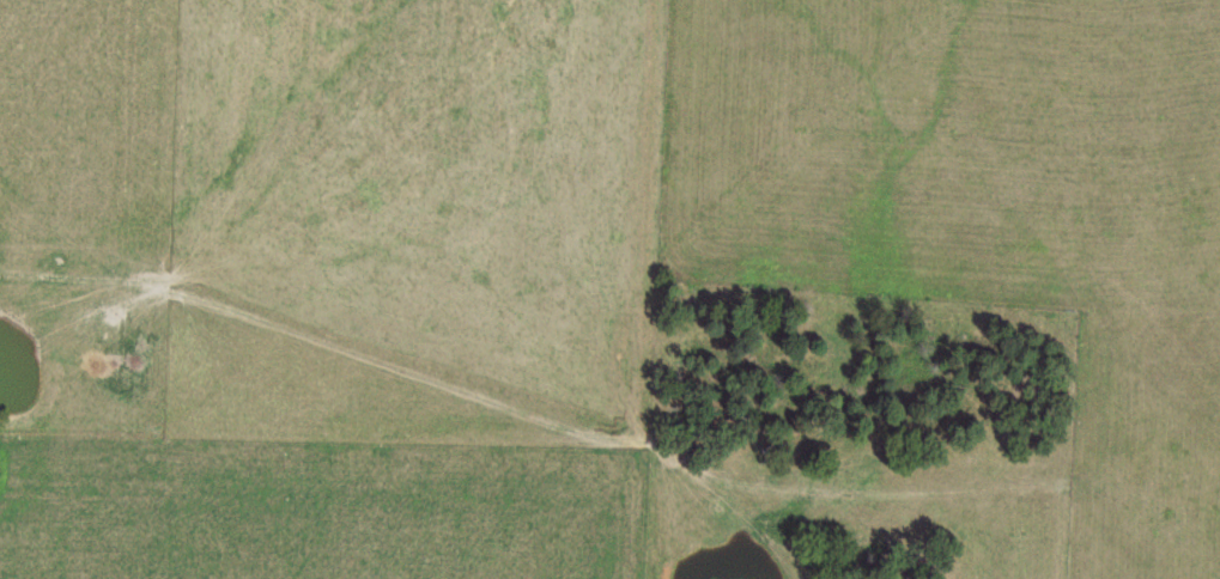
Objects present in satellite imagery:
road: (317, 331)

